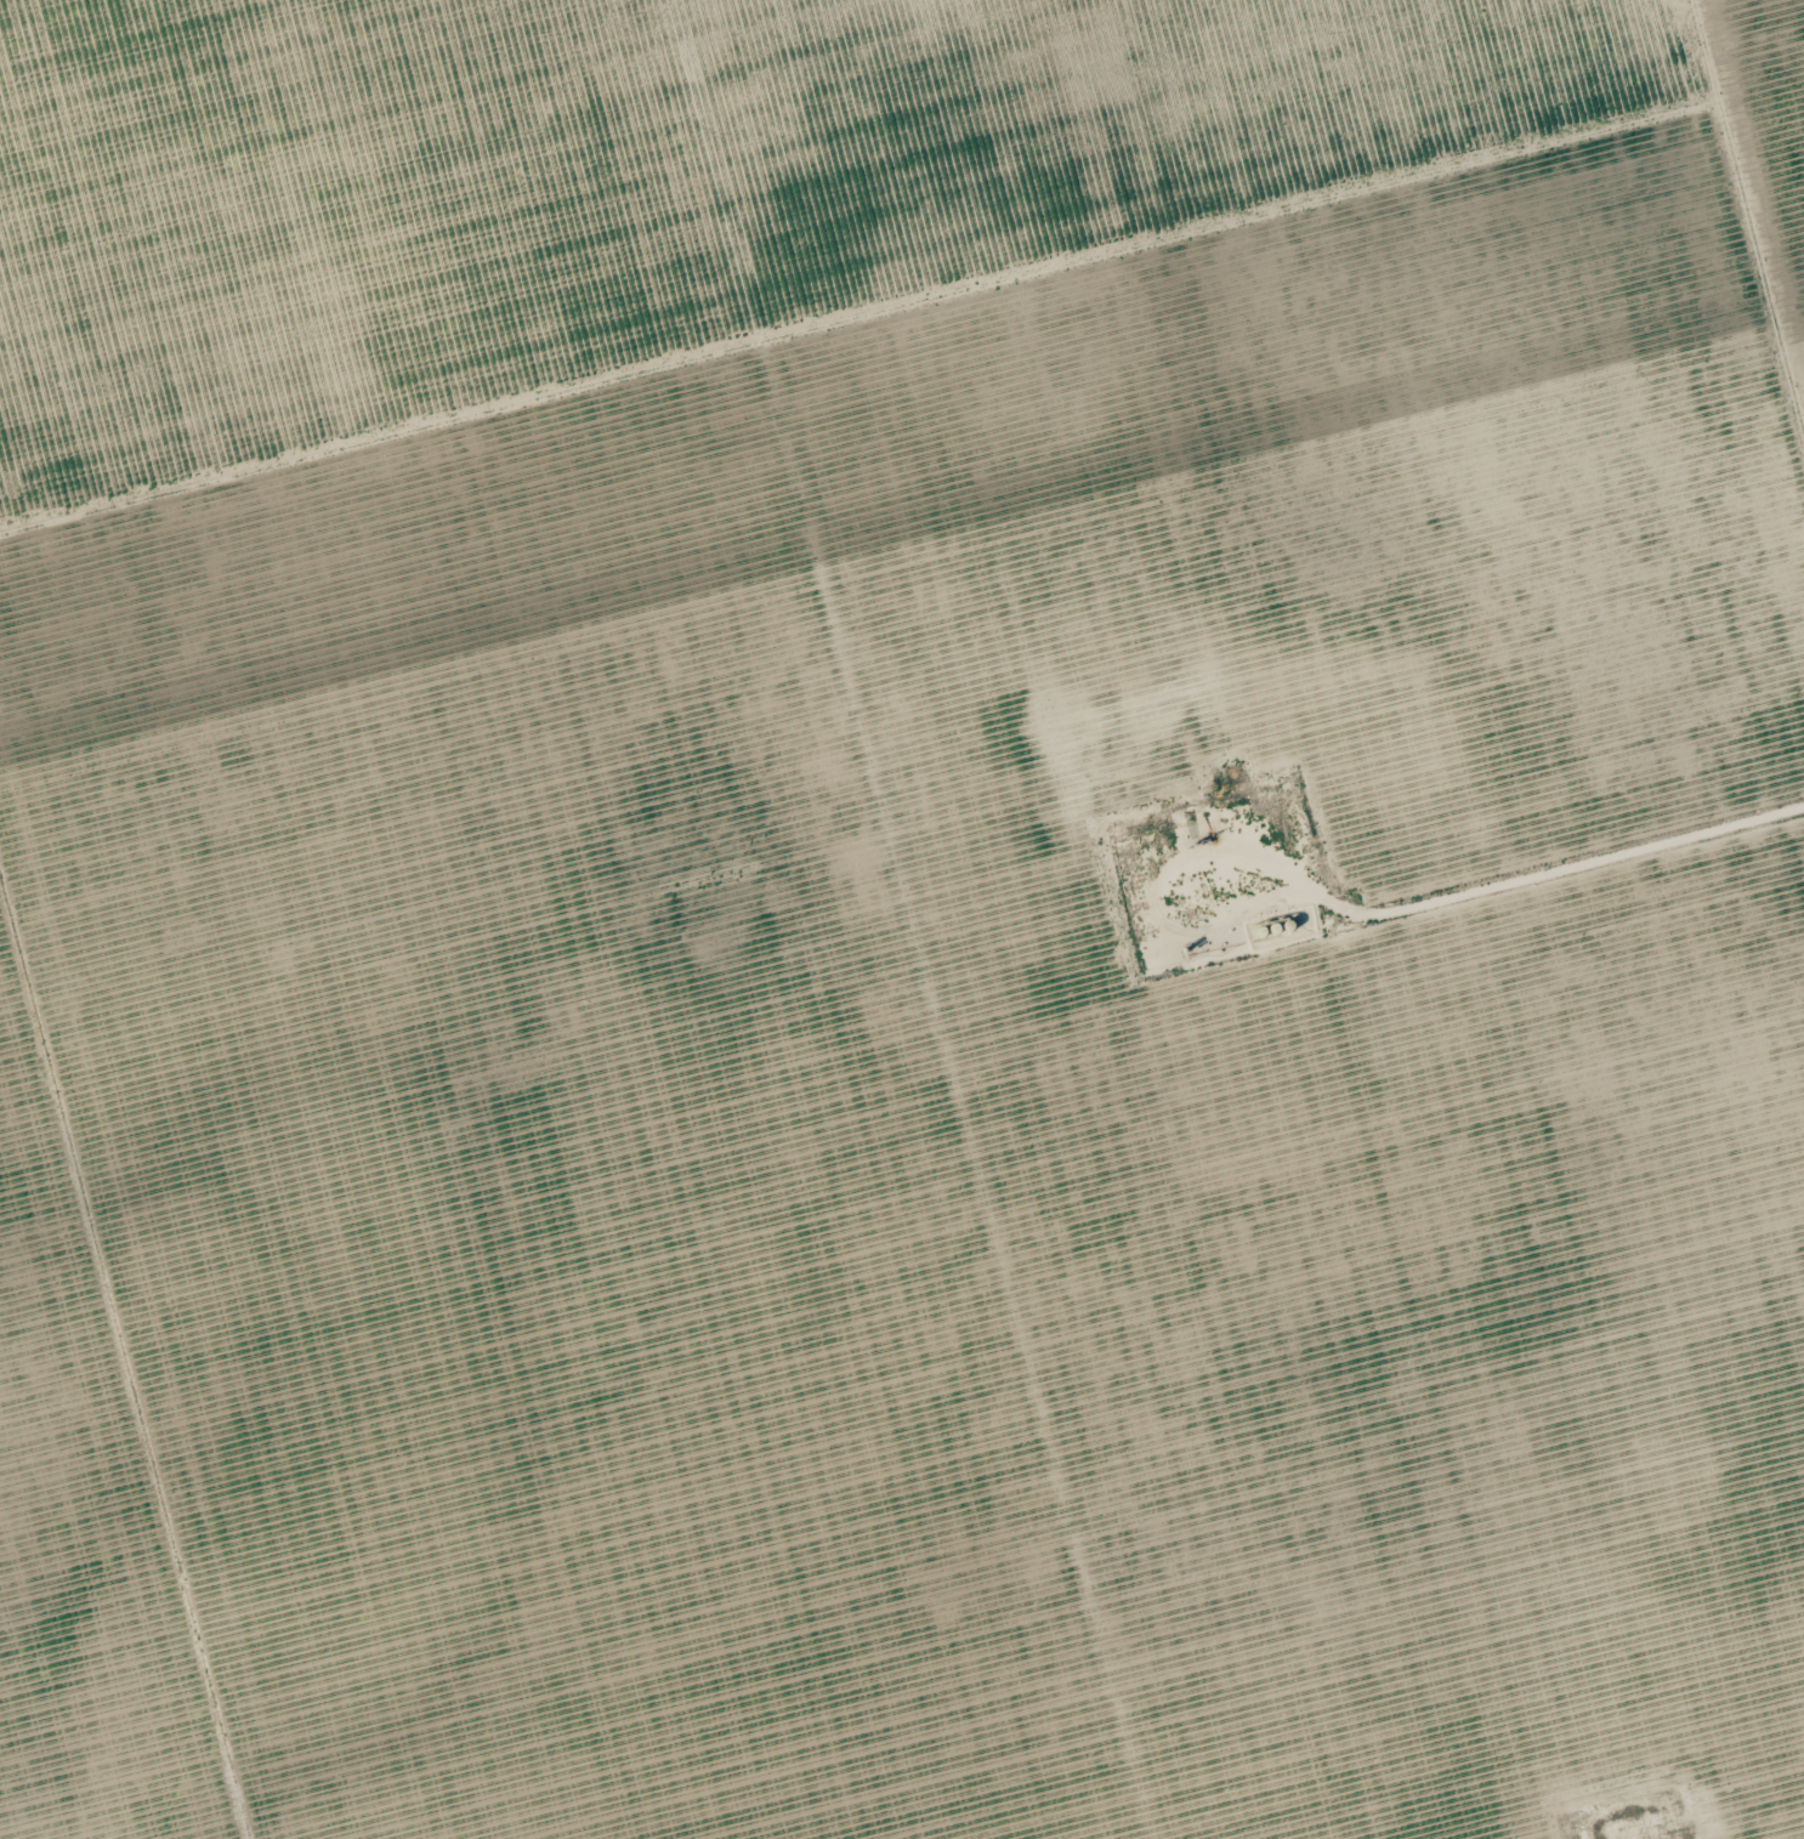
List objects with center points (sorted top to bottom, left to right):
river: (1528, 194)

